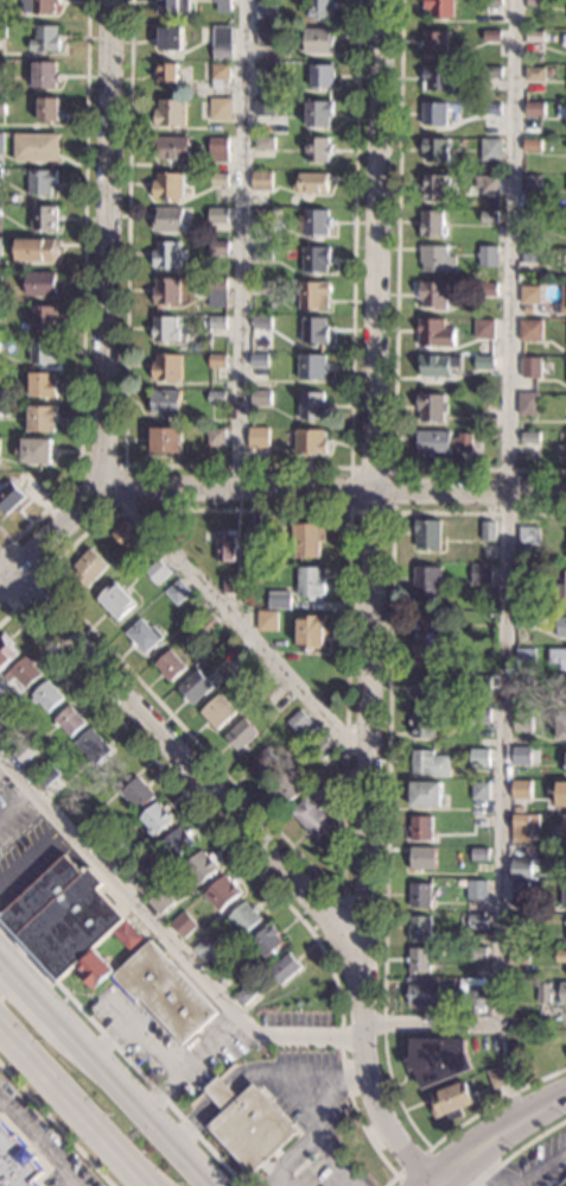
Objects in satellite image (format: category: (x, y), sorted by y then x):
building: (492, 2)
building: (535, 2)
building: (2, 4)
building: (222, 5)
building: (38, 6)
building: (172, 6)
building: (319, 8)
building: (438, 8)
building: (266, 13)
building: (2, 31)
building: (491, 36)
building: (266, 37)
building: (534, 37)
building: (44, 38)
building: (170, 38)
building: (319, 40)
building: (221, 43)
building: (434, 44)
building: (1, 69)
building: (492, 72)
building: (44, 74)
building: (166, 74)
building: (535, 74)
building: (320, 76)
building: (221, 77)
building: (437, 80)
building: (263, 89)
building: (2, 105)
building: (46, 108)
building: (220, 108)
building: (263, 108)
building: (492, 109)
building: (534, 109)
building: (170, 113)
building: (318, 114)
building: (434, 114)
building: (1, 141)
building: (263, 141)
building: (533, 145)
building: (36, 146)
building: (171, 149)
building: (317, 149)
building: (218, 150)
building: (435, 150)
building: (490, 150)
building: (0, 174)
building: (218, 178)
building: (40, 181)
building: (261, 181)
building: (311, 182)
building: (532, 182)
building: (488, 184)
building: (168, 187)
building: (434, 188)
building: (217, 215)
building: (262, 215)
building: (489, 216)
building: (44, 217)
building: (167, 219)
building: (533, 220)
building: (313, 222)
building: (432, 225)
road: (107, 242)
road: (237, 244)
building: (0, 245)
building: (217, 247)
building: (36, 248)
building: (262, 252)
building: (168, 253)
building: (488, 256)
building: (532, 257)
building: (314, 258)
building: (437, 260)
building: (40, 283)
building: (261, 288)
road: (82, 290)
building: (486, 290)
building: (165, 291)
building: (216, 292)
building: (313, 295)
building: (530, 295)
building: (432, 296)
building: (561, 303)
building: (43, 317)
road: (393, 321)
building: (217, 323)
building: (261, 323)
building: (164, 328)
building: (484, 329)
building: (314, 330)
building: (530, 330)
building: (433, 333)
building: (42, 352)
building: (217, 361)
building: (259, 361)
building: (484, 364)
building: (438, 365)
building: (312, 367)
building: (167, 368)
building: (530, 368)
building: (42, 385)
building: (216, 398)
building: (261, 398)
building: (165, 403)
building: (528, 404)
building: (312, 406)
building: (431, 408)
building: (40, 419)
building: (479, 422)
building: (216, 437)
building: (257, 437)
building: (530, 437)
building: (165, 441)
building: (310, 442)
building: (441, 443)
building: (34, 452)
building: (561, 452)
road: (237, 466)
building: (26, 484)
road: (127, 487)
road: (332, 491)
building: (9, 498)
road: (350, 511)
building: (488, 531)
road: (50, 535)
building: (125, 535)
building: (426, 535)
building: (254, 536)
building: (528, 537)
building: (306, 540)
building: (225, 547)
building: (88, 567)
building: (157, 572)
road: (36, 574)
building: (482, 574)
building: (524, 576)
road: (502, 578)
building: (310, 582)
building: (426, 582)
building: (231, 583)
building: (178, 593)
building: (559, 593)
building: (278, 599)
building: (115, 601)
road: (368, 605)
building: (521, 607)
road: (229, 618)
building: (267, 622)
building: (524, 623)
building: (209, 624)
building: (561, 625)
building: (310, 632)
building: (144, 637)
building: (427, 642)
building: (5, 650)
building: (524, 656)
building: (558, 657)
building: (239, 664)
building: (170, 665)
building: (252, 673)
building: (21, 674)
building: (481, 682)
building: (195, 687)
building: (523, 687)
building: (426, 689)
building: (274, 695)
building: (45, 696)
building: (217, 713)
building: (0, 714)
building: (479, 715)
building: (69, 721)
building: (298, 723)
building: (421, 724)
building: (522, 724)
building: (561, 728)
building: (240, 734)
building: (93, 746)
building: (322, 746)
building: (25, 752)
road: (209, 756)
building: (523, 756)
building: (478, 757)
road: (185, 763)
building: (263, 763)
building: (428, 763)
building: (326, 765)
building: (565, 770)
building: (49, 777)
building: (285, 789)
building: (521, 789)
building: (479, 790)
building: (560, 793)
building: (136, 794)
building: (425, 794)
building: (320, 795)
road: (14, 805)
building: (155, 819)
building: (311, 819)
building: (520, 821)
building: (90, 826)
road: (386, 827)
building: (420, 828)
building: (564, 828)
parking lot: (24, 844)
building: (177, 844)
building: (119, 850)
building: (479, 854)
road: (31, 857)
building: (421, 858)
road: (250, 864)
building: (521, 868)
building: (201, 869)
building: (136, 876)
building: (476, 890)
building: (519, 890)
building: (222, 894)
building: (564, 894)
building: (419, 896)
building: (163, 900)
road: (341, 900)
building: (62, 916)
building: (244, 919)
building: (520, 920)
building: (477, 922)
building: (565, 923)
building: (184, 925)
building: (419, 928)
building: (128, 936)
road: (164, 938)
building: (267, 940)
building: (205, 950)
building: (476, 953)
building: (517, 957)
building: (560, 957)
road: (4, 959)
building: (419, 960)
road: (4, 967)
building: (95, 970)
building: (285, 970)
building: (165, 992)
building: (552, 992)
building: (473, 993)
road: (38, 995)
building: (244, 995)
building: (424, 995)
road: (150, 1035)
road: (115, 1039)
parking lot: (170, 1045)
road: (121, 1054)
building: (438, 1060)
road: (196, 1068)
building: (501, 1075)
road: (312, 1081)
road: (234, 1087)
building: (452, 1102)
road: (74, 1104)
road: (142, 1105)
road: (521, 1119)
building: (250, 1124)
road: (56, 1125)
road: (312, 1137)
road: (37, 1143)
road: (517, 1149)
building: (17, 1162)
road: (407, 1166)
road: (449, 1166)
road: (465, 1167)
road: (484, 1168)
road: (543, 1168)
road: (281, 1180)
building: (562, 1184)
parking garage: (562, 1184)
road: (145, 1185)

